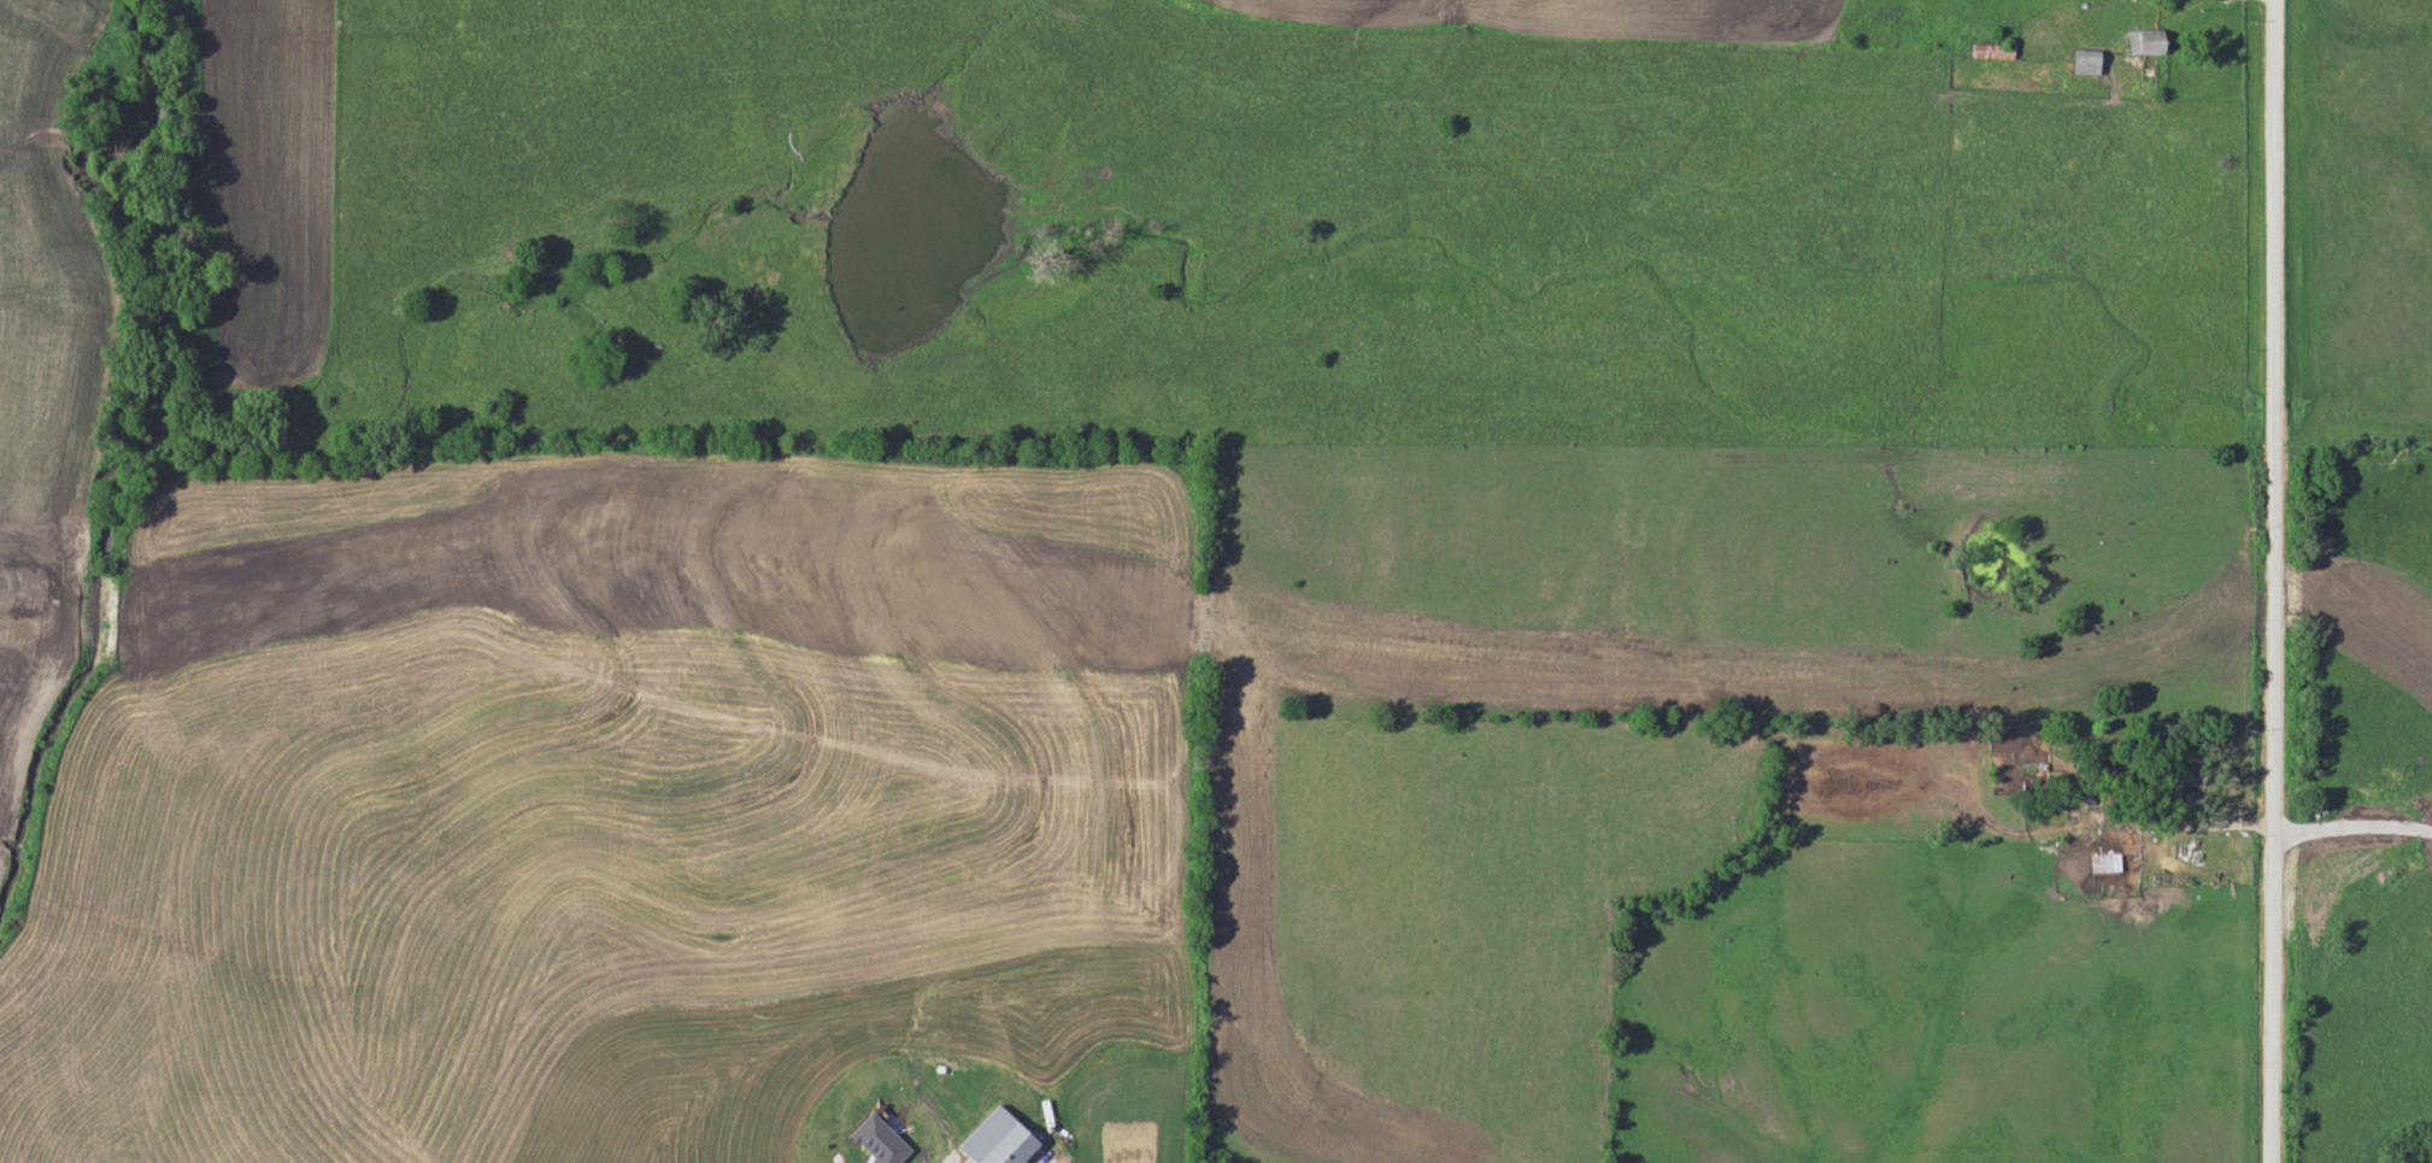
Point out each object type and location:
building: (2138, 41)
building: (2079, 60)
road: (2269, 581)
building: (2099, 863)

